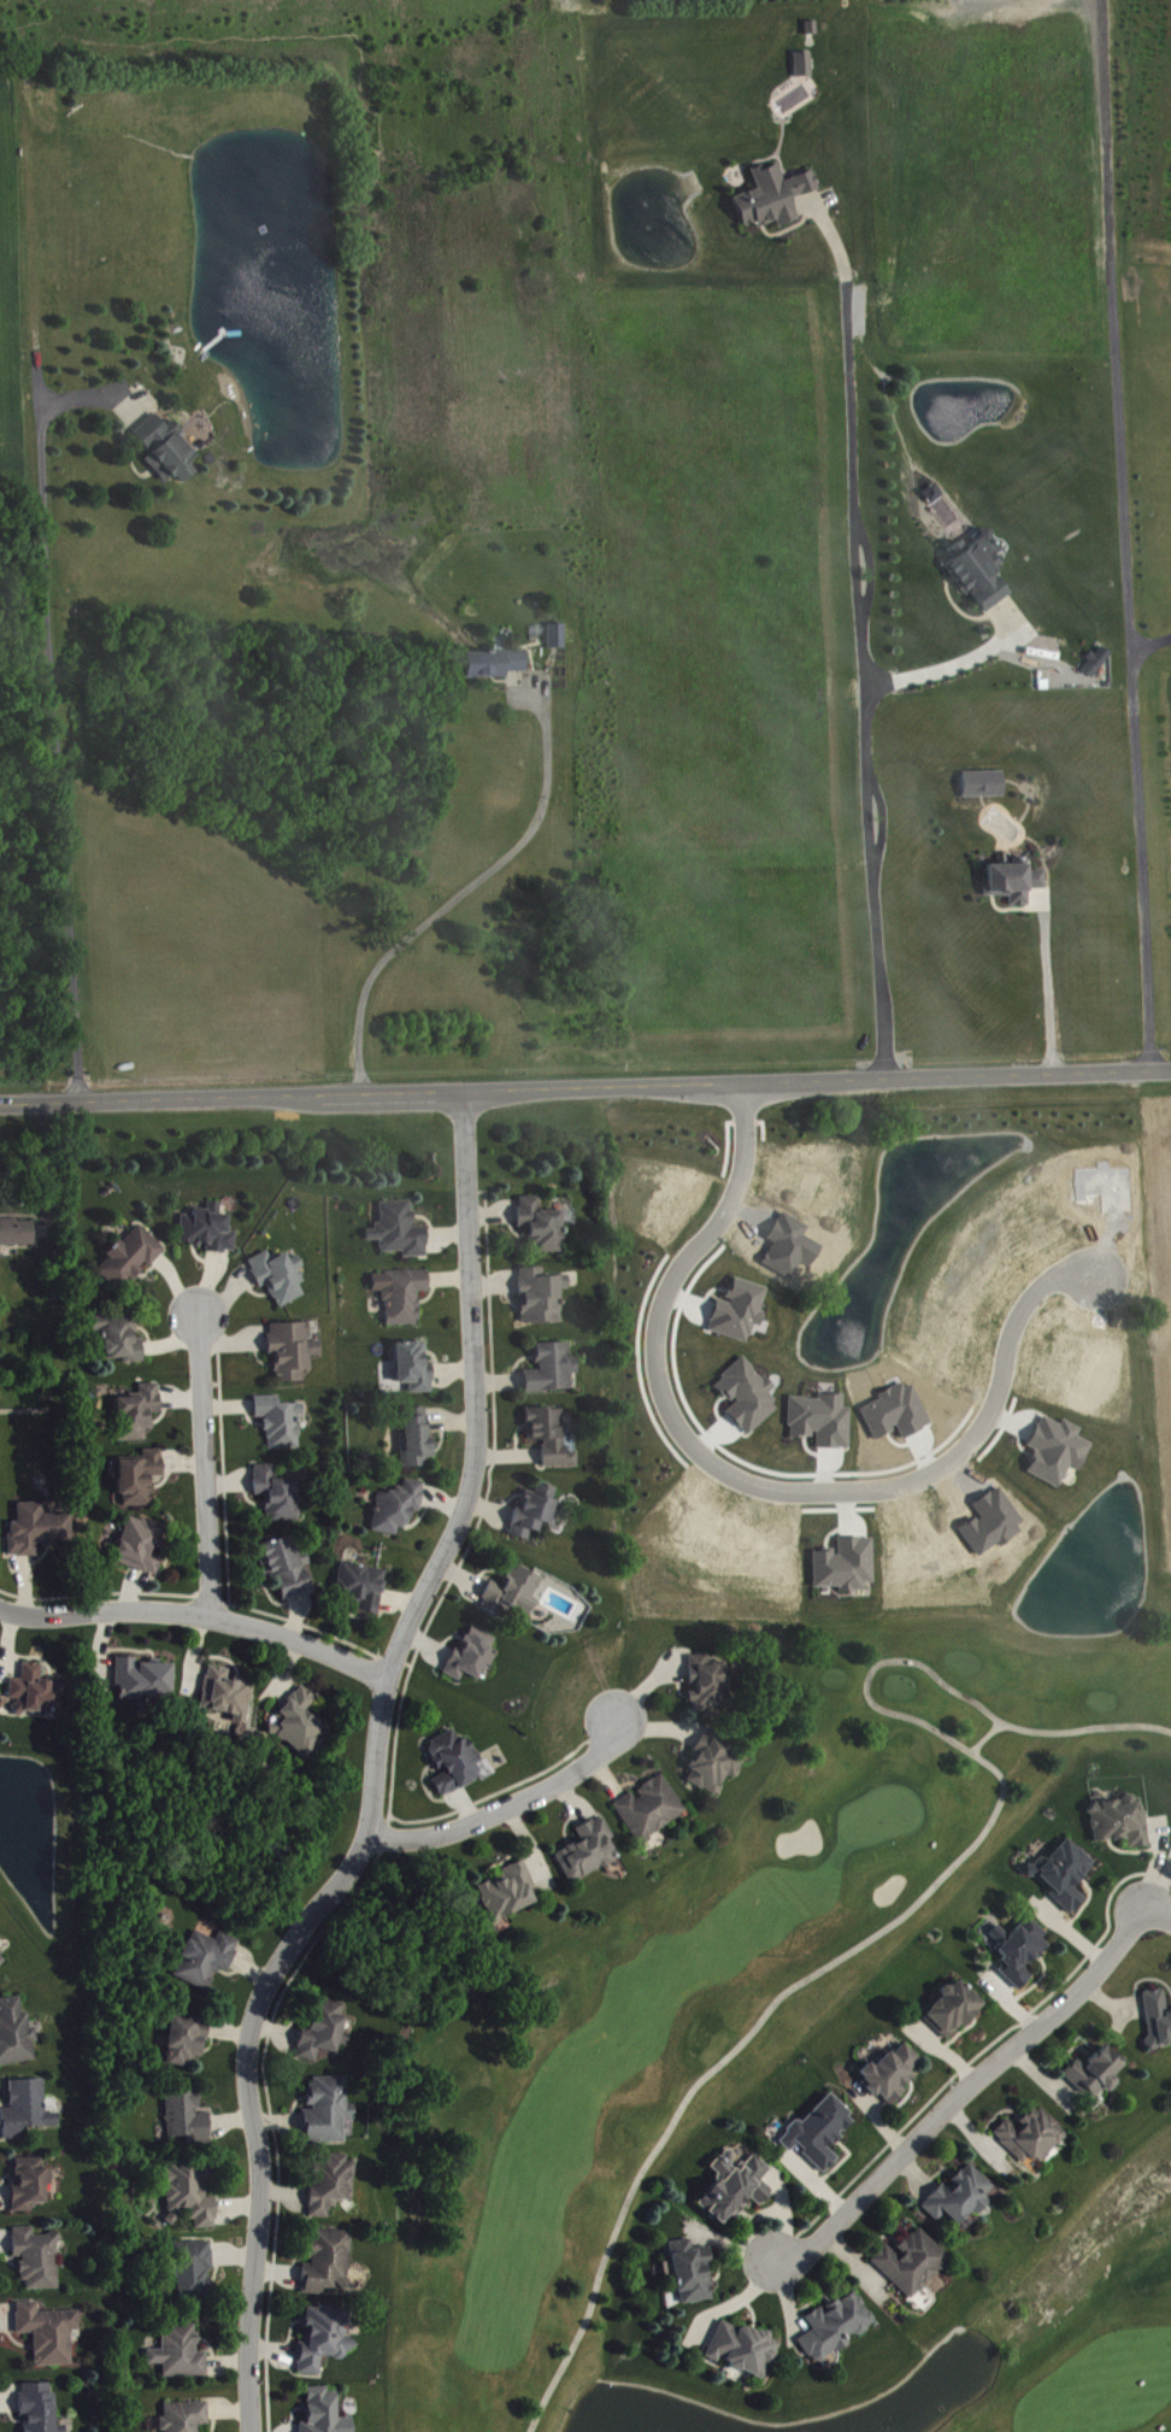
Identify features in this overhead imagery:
building: (808, 24)
building: (805, 65)
building: (770, 192)
road: (787, 225)
crop: (7, 294)
road: (95, 394)
building: (161, 446)
road: (124, 447)
road: (1125, 534)
building: (972, 569)
road: (959, 610)
building: (553, 632)
road: (859, 632)
road: (1152, 640)
building: (1091, 657)
building: (490, 659)
road: (954, 660)
building: (1098, 662)
road: (54, 726)
building: (979, 780)
building: (1008, 877)
road: (466, 888)
road: (1011, 906)
road: (1047, 981)
road: (584, 1085)
road: (48, 1164)
building: (542, 1226)
building: (14, 1228)
building: (210, 1229)
building: (401, 1230)
building: (131, 1257)
crop: (1160, 1264)
building: (281, 1276)
street lamp: (1131, 1283)
building: (404, 1294)
building: (543, 1296)
building: (740, 1310)
building: (122, 1337)
building: (294, 1350)
building: (414, 1369)
building: (553, 1369)
building: (748, 1396)
building: (139, 1414)
building: (822, 1421)
building: (282, 1422)
building: (552, 1437)
building: (418, 1439)
building: (1058, 1451)
road: (204, 1464)
building: (141, 1479)
road: (751, 1481)
building: (279, 1494)
building: (399, 1508)
building: (535, 1511)
building: (39, 1529)
building: (142, 1546)
building: (847, 1565)
building: (289, 1567)
building: (363, 1587)
building: (514, 1593)
road: (198, 1614)
building: (473, 1656)
building: (145, 1679)
building: (711, 1687)
building: (40, 1693)
building: (229, 1694)
building: (302, 1722)
road: (987, 1733)
building: (454, 1763)
building: (714, 1764)
road: (375, 1768)
road: (508, 1804)
building: (651, 1809)
building: (1120, 1822)
building: (590, 1851)
building: (1064, 1874)
building: (507, 1893)
road: (919, 1905)
road: (1159, 1915)
building: (1017, 1950)
building: (207, 1958)
building: (1, 1961)
park: (713, 1993)
building: (953, 2010)
building: (1158, 2019)
building: (324, 2032)
building: (16, 2033)
building: (187, 2040)
building: (890, 2074)
building: (1096, 2074)
road: (964, 2089)
building: (28, 2109)
building: (329, 2110)
building: (187, 2116)
building: (819, 2133)
building: (1031, 2137)
building: (333, 2183)
building: (31, 2184)
building: (736, 2186)
building: (192, 2193)
building: (961, 2196)
building: (37, 2258)
building: (328, 2262)
building: (912, 2263)
building: (195, 2272)
building: (692, 2273)
park: (1069, 2322)
building: (836, 2327)
building: (49, 2333)
building: (324, 2339)
building: (743, 2349)
building: (182, 2354)
building: (41, 2408)
building: (325, 2413)
building: (187, 2418)

